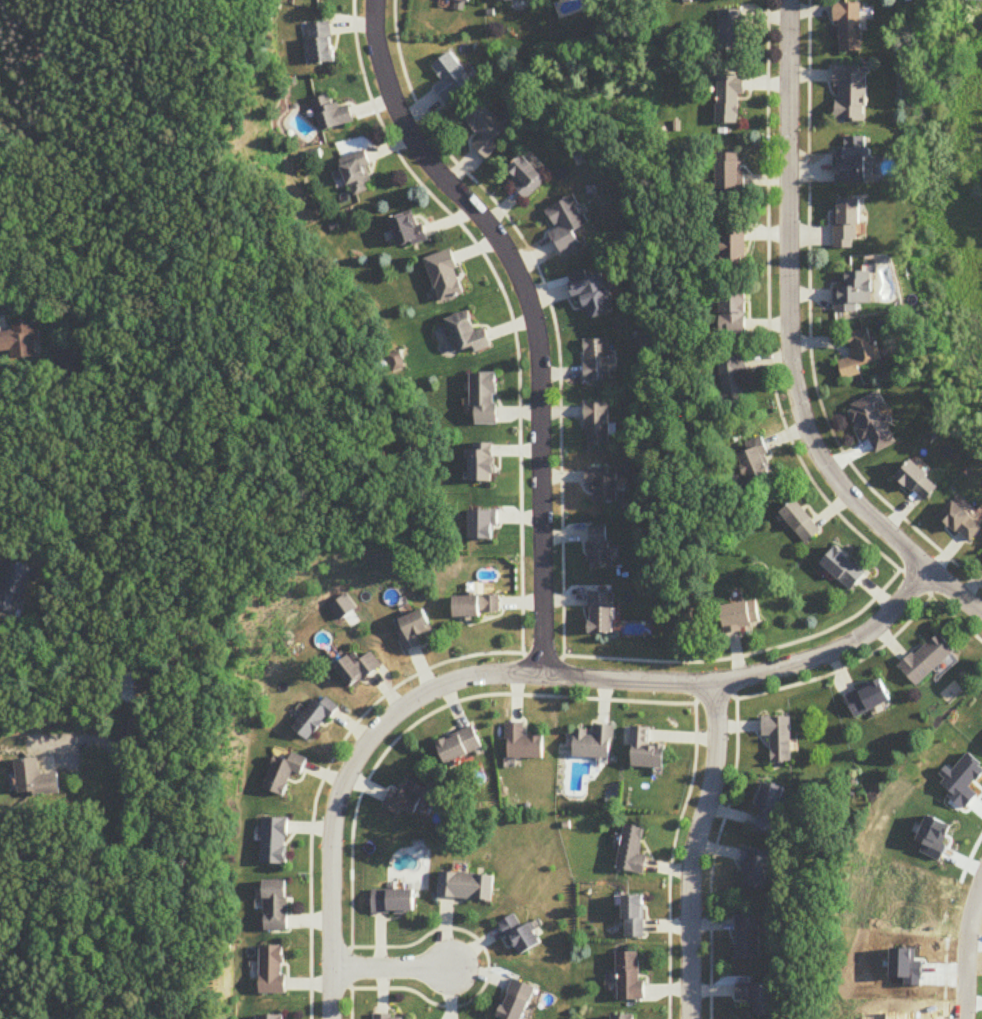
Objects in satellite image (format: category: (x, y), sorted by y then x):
building: (518, 0)
building: (462, 4)
building: (850, 25)
building: (732, 31)
building: (322, 43)
building: (453, 77)
building: (852, 93)
building: (730, 99)
building: (330, 113)
building: (488, 129)
building: (853, 160)
building: (731, 173)
building: (357, 174)
building: (527, 177)
road: (447, 211)
building: (568, 224)
building: (848, 224)
building: (407, 230)
building: (736, 241)
building: (446, 276)
building: (855, 292)
building: (594, 293)
building: (734, 312)
road: (536, 313)
road: (1, 315)
road: (811, 326)
building: (468, 334)
building: (20, 343)
road: (796, 343)
building: (861, 354)
building: (601, 359)
road: (770, 363)
building: (733, 378)
building: (485, 399)
building: (876, 423)
building: (600, 425)
building: (757, 462)
building: (920, 482)
building: (605, 487)
building: (802, 522)
building: (963, 522)
building: (602, 547)
building: (844, 568)
building: (15, 587)
building: (477, 606)
building: (601, 613)
building: (741, 616)
road: (879, 623)
building: (412, 630)
building: (928, 660)
building: (357, 669)
building: (122, 688)
road: (442, 688)
building: (869, 699)
building: (314, 720)
road: (121, 735)
building: (779, 738)
building: (595, 743)
building: (523, 744)
building: (460, 747)
building: (647, 750)
building: (284, 773)
building: (35, 779)
building: (408, 799)
building: (770, 809)
road: (118, 836)
building: (275, 842)
road: (695, 850)
building: (632, 851)
building: (758, 869)
building: (466, 887)
building: (394, 903)
building: (276, 907)
building: (634, 917)
building: (521, 934)
building: (748, 938)
road: (965, 950)
road: (489, 968)
road: (392, 969)
building: (273, 971)
building: (629, 978)
building: (757, 998)
building: (519, 1001)
building: (271, 1017)
building: (623, 1017)
building: (395, 1018)

